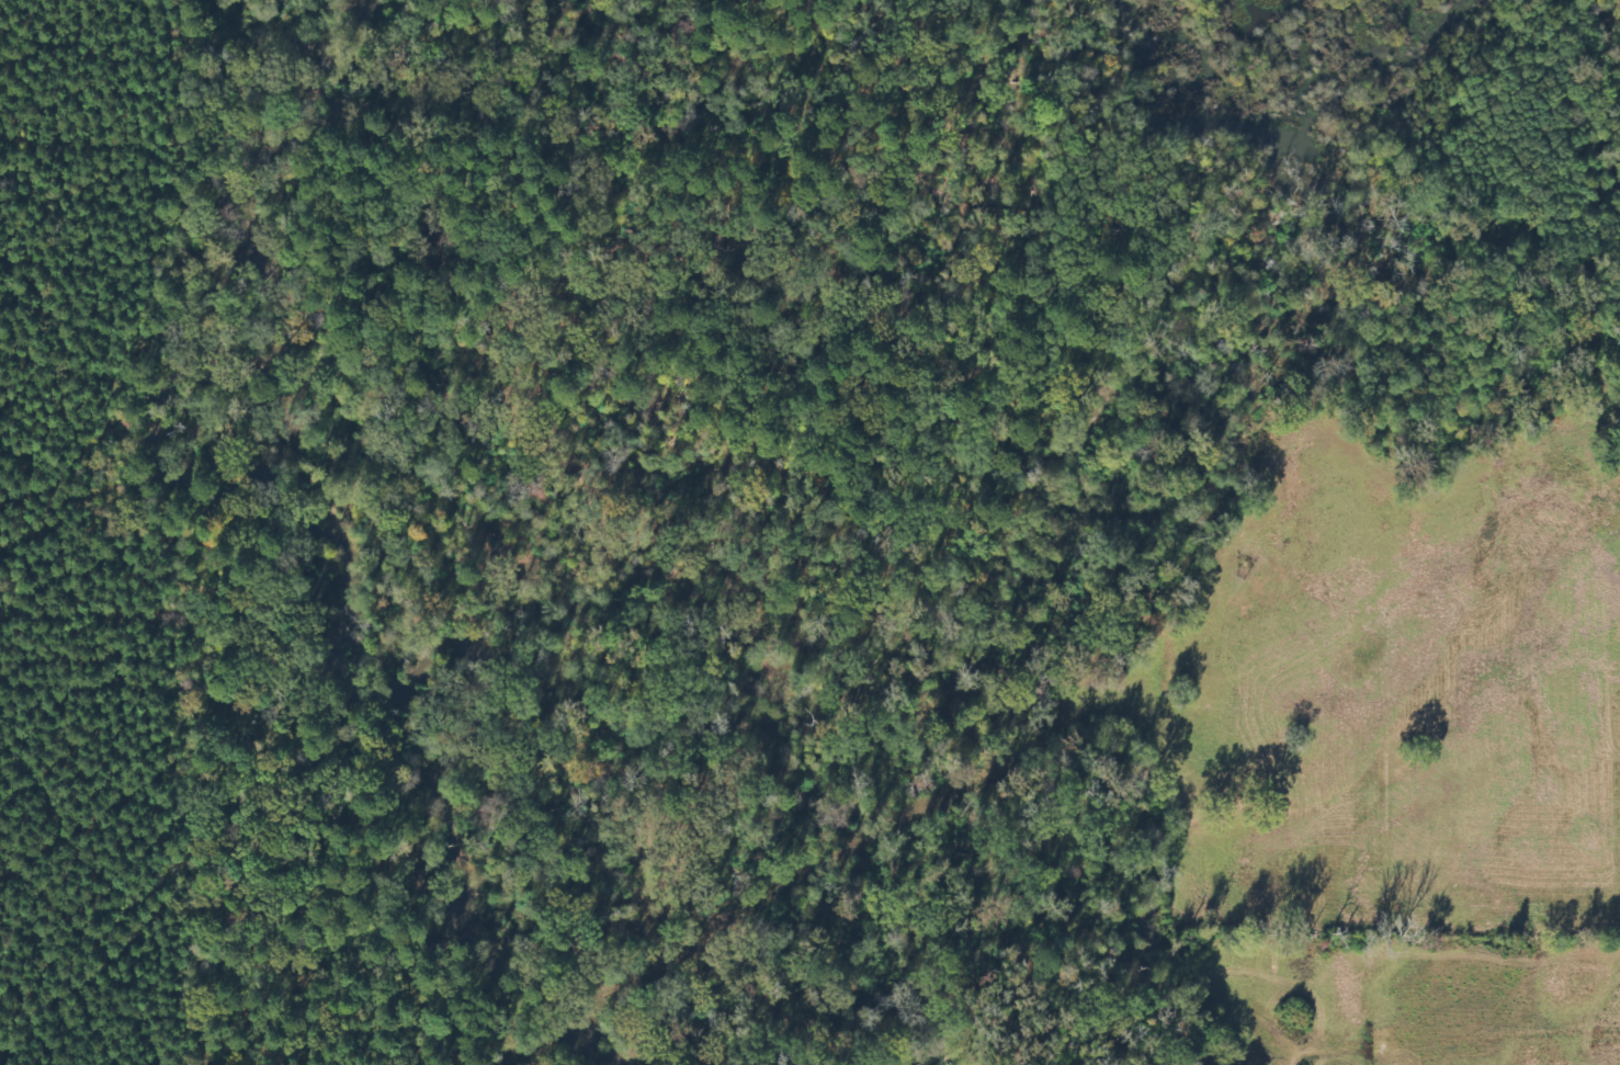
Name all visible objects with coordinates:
road: (39, 22)

